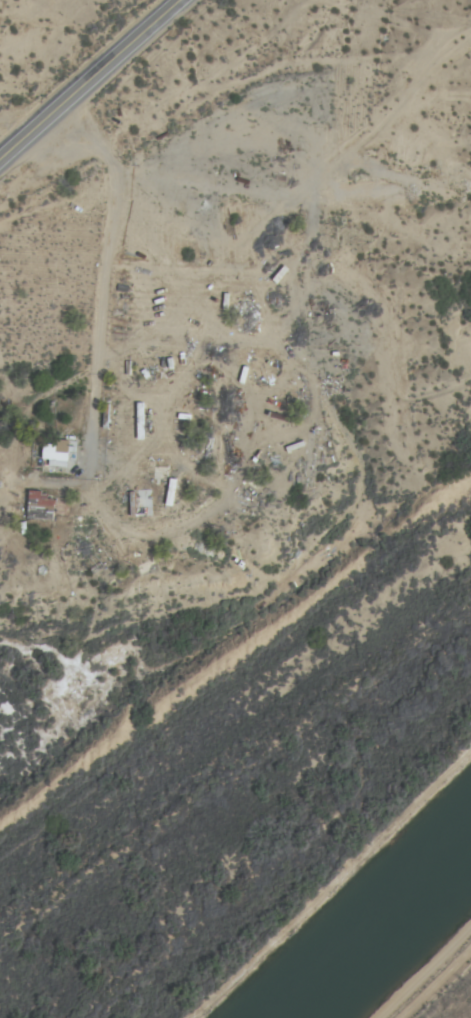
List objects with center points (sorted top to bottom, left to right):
road: (93, 82)
road: (100, 274)

